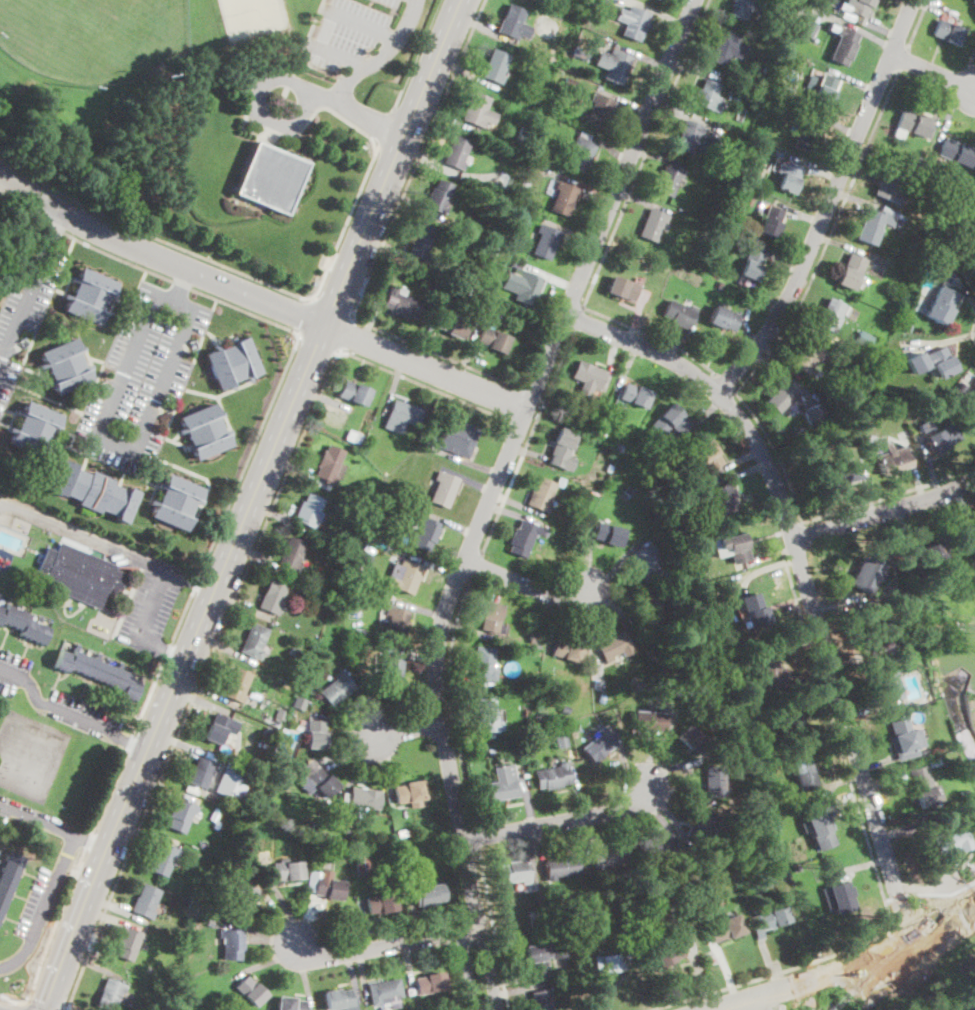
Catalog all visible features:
building: (973, 0)
building: (603, 1)
building: (857, 6)
building: (740, 8)
park: (269, 15)
park: (238, 19)
building: (632, 22)
road: (363, 23)
building: (513, 23)
road: (917, 25)
building: (808, 28)
building: (947, 32)
building: (582, 33)
parking lot: (362, 35)
park: (96, 37)
building: (842, 47)
building: (726, 48)
building: (579, 53)
road: (341, 55)
road: (380, 55)
road: (418, 55)
building: (549, 56)
building: (772, 60)
road: (902, 61)
building: (495, 66)
building: (615, 66)
building: (767, 69)
road: (932, 72)
building: (775, 82)
building: (568, 83)
building: (825, 90)
road: (256, 94)
building: (708, 95)
building: (751, 96)
building: (770, 98)
building: (532, 99)
building: (599, 110)
building: (478, 111)
park: (210, 116)
road: (370, 119)
building: (910, 124)
road: (387, 128)
building: (808, 134)
building: (524, 135)
building: (687, 136)
building: (709, 144)
building: (538, 145)
building: (455, 152)
building: (581, 152)
building: (777, 152)
building: (955, 152)
road: (647, 153)
road: (417, 160)
road: (393, 162)
building: (514, 165)
building: (532, 168)
building: (788, 176)
road: (1, 177)
building: (270, 178)
building: (670, 178)
building: (506, 182)
building: (525, 182)
building: (887, 183)
building: (946, 184)
building: (439, 197)
building: (562, 198)
building: (749, 200)
road: (829, 204)
building: (891, 212)
building: (772, 221)
building: (652, 224)
building: (871, 226)
road: (53, 229)
building: (928, 230)
road: (828, 240)
building: (421, 241)
building: (545, 241)
building: (711, 249)
building: (493, 251)
road: (159, 254)
building: (970, 257)
building: (935, 261)
building: (752, 264)
building: (648, 265)
road: (229, 267)
road: (146, 269)
building: (850, 271)
road: (182, 283)
building: (520, 285)
building: (720, 286)
building: (622, 288)
building: (89, 296)
road: (23, 304)
building: (400, 304)
building: (487, 305)
building: (895, 305)
building: (937, 305)
road: (193, 306)
road: (334, 306)
parking lot: (25, 310)
building: (680, 313)
building: (830, 314)
road: (304, 316)
building: (723, 318)
road: (578, 319)
building: (453, 324)
building: (907, 326)
road: (345, 335)
road: (653, 336)
building: (493, 339)
road: (319, 340)
building: (842, 340)
building: (863, 340)
road: (436, 353)
building: (806, 354)
building: (933, 362)
building: (232, 363)
building: (874, 364)
building: (65, 367)
road: (425, 368)
building: (870, 370)
parking lot: (143, 376)
building: (587, 377)
road: (727, 383)
road: (424, 385)
building: (961, 387)
building: (354, 393)
road: (533, 393)
building: (634, 394)
building: (777, 395)
road: (514, 404)
building: (973, 404)
building: (402, 415)
building: (814, 415)
building: (585, 416)
building: (862, 420)
building: (669, 423)
road: (520, 425)
building: (34, 430)
building: (204, 431)
building: (938, 434)
building: (353, 438)
building: (458, 438)
building: (613, 440)
building: (427, 441)
road: (527, 443)
road: (512, 447)
building: (561, 447)
road: (778, 452)
building: (708, 455)
building: (889, 458)
building: (695, 461)
building: (330, 464)
building: (608, 468)
building: (841, 473)
building: (559, 480)
building: (402, 486)
building: (443, 489)
building: (94, 492)
building: (629, 492)
building: (541, 494)
road: (890, 495)
building: (724, 499)
building: (176, 502)
building: (369, 505)
building: (309, 511)
road: (884, 512)
building: (426, 533)
building: (545, 533)
building: (46, 534)
building: (607, 534)
building: (522, 537)
building: (345, 543)
road: (107, 545)
building: (735, 546)
building: (291, 554)
building: (926, 557)
building: (646, 562)
road: (475, 566)
building: (356, 570)
building: (867, 572)
building: (80, 575)
building: (404, 576)
building: (668, 576)
road: (803, 579)
road: (523, 583)
building: (355, 589)
building: (347, 590)
building: (899, 592)
building: (272, 597)
parking lot: (152, 603)
road: (152, 604)
building: (648, 610)
building: (754, 612)
building: (491, 617)
building: (396, 623)
building: (23, 624)
building: (873, 633)
building: (534, 638)
building: (254, 641)
building: (613, 645)
road: (162, 648)
building: (293, 649)
building: (567, 650)
building: (894, 659)
building: (483, 663)
road: (161, 666)
road: (182, 666)
building: (390, 669)
building: (769, 669)
building: (361, 670)
building: (98, 672)
road: (202, 679)
building: (597, 682)
building: (887, 683)
building: (236, 685)
building: (669, 685)
building: (676, 688)
building: (336, 689)
parking lot: (57, 699)
road: (452, 699)
building: (601, 699)
building: (298, 703)
road: (54, 707)
building: (564, 709)
building: (524, 712)
building: (279, 714)
building: (486, 714)
building: (648, 721)
building: (789, 723)
building: (216, 729)
road: (407, 730)
building: (269, 732)
building: (315, 734)
building: (688, 738)
road: (134, 739)
building: (560, 739)
building: (905, 739)
building: (599, 744)
building: (491, 751)
park: (30, 754)
building: (503, 759)
building: (199, 773)
building: (525, 773)
building: (803, 773)
building: (551, 777)
building: (712, 779)
building: (322, 782)
building: (229, 783)
building: (501, 785)
building: (923, 787)
building: (966, 791)
building: (408, 792)
building: (361, 799)
building: (230, 801)
road: (9, 805)
parking lot: (7, 810)
building: (966, 812)
building: (181, 815)
building: (721, 821)
road: (557, 823)
building: (215, 825)
building: (820, 826)
road: (62, 827)
building: (702, 827)
building: (246, 829)
building: (345, 829)
building: (402, 833)
building: (324, 834)
road: (476, 836)
building: (948, 840)
building: (320, 844)
building: (653, 846)
building: (408, 849)
building: (608, 856)
building: (164, 859)
road: (874, 861)
building: (709, 864)
building: (362, 865)
building: (561, 866)
building: (772, 867)
building: (798, 867)
building: (286, 870)
building: (514, 871)
building: (784, 872)
building: (8, 875)
building: (667, 885)
building: (328, 886)
building: (232, 894)
building: (428, 894)
building: (837, 897)
building: (243, 900)
building: (145, 901)
building: (381, 902)
parking lot: (40, 903)
road: (947, 903)
building: (194, 905)
road: (45, 906)
building: (671, 906)
building: (625, 919)
building: (770, 920)
building: (540, 922)
road: (905, 923)
building: (722, 929)
road: (493, 930)
building: (127, 943)
building: (231, 943)
road: (390, 944)
building: (667, 952)
building: (543, 955)
road: (465, 960)
road: (489, 961)
building: (612, 962)
road: (851, 968)
building: (149, 969)
road: (882, 974)
building: (429, 983)
building: (250, 990)
building: (385, 992)
building: (109, 994)
road: (14, 998)
building: (338, 999)
building: (540, 1000)
building: (145, 1002)
building: (288, 1004)
road: (26, 1006)
road: (40, 1006)
road: (725, 1009)
building: (974, 1009)

